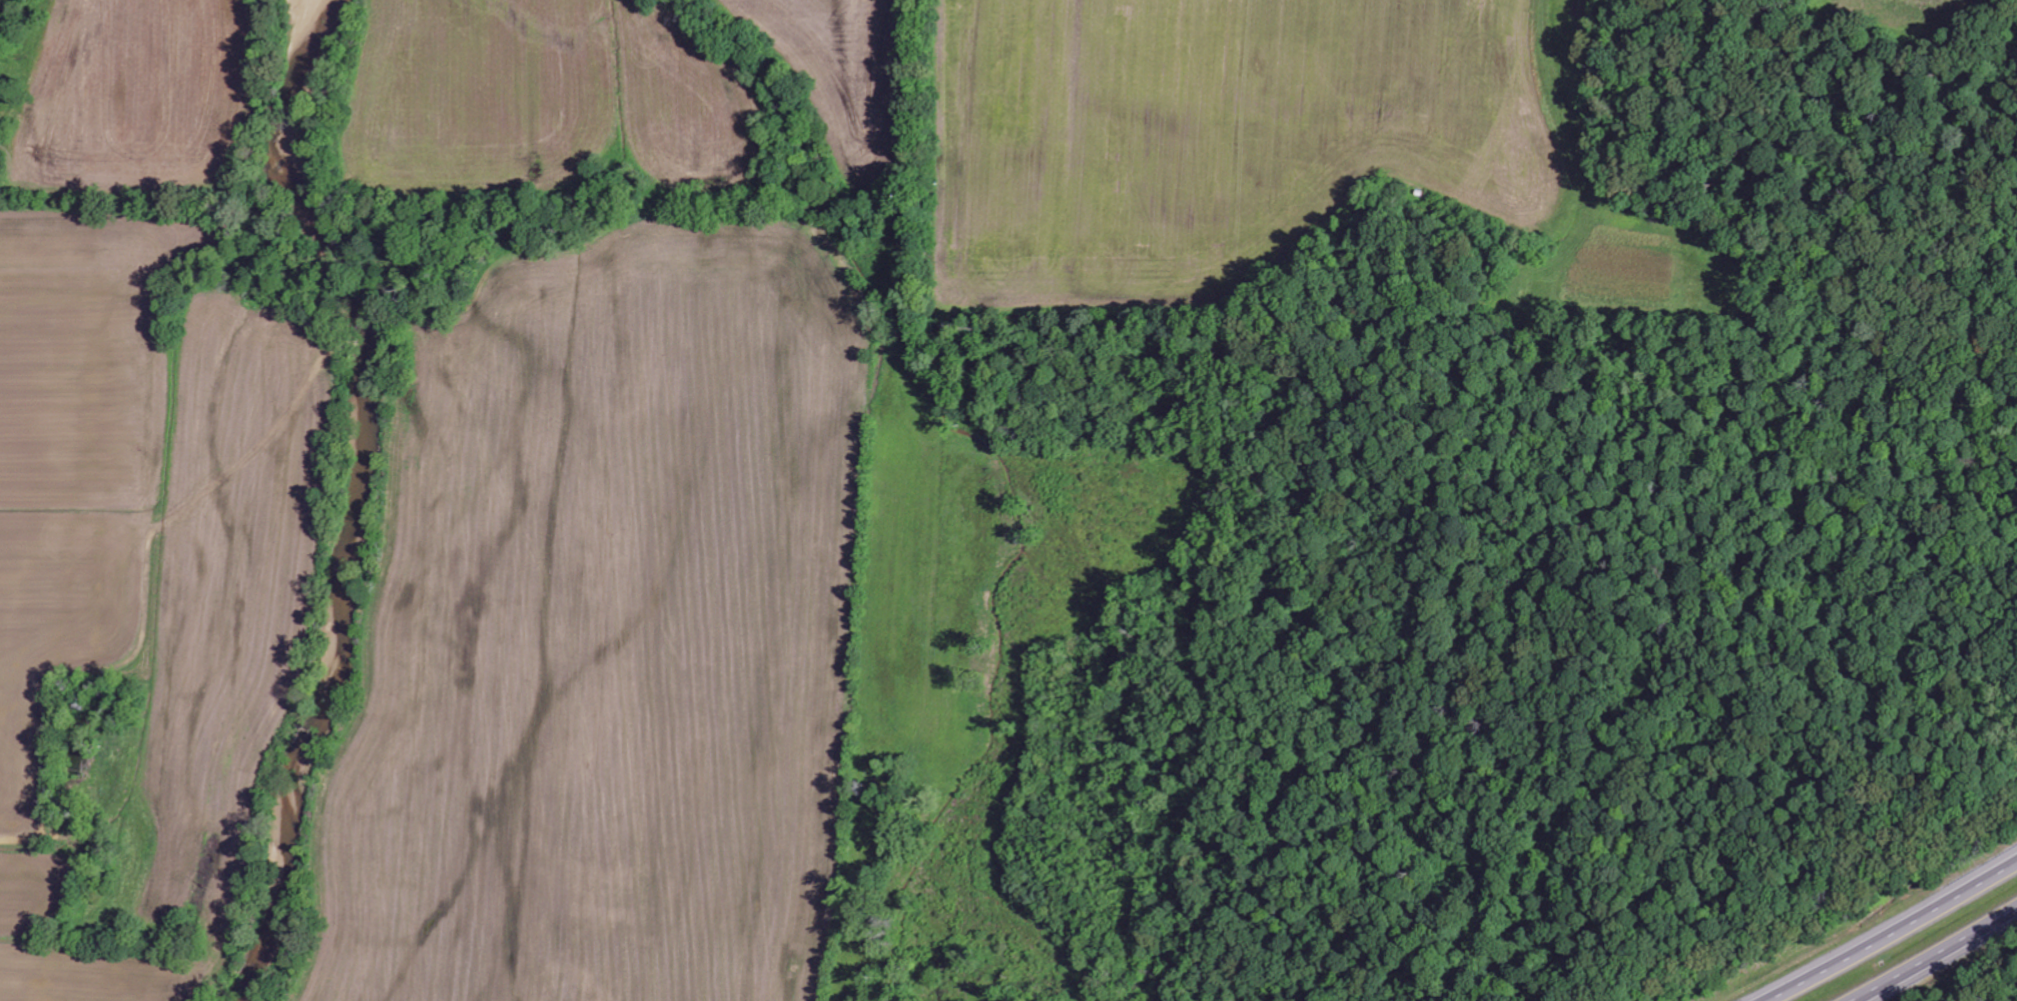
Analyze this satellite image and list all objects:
road: (1886, 930)
road: (1935, 955)

